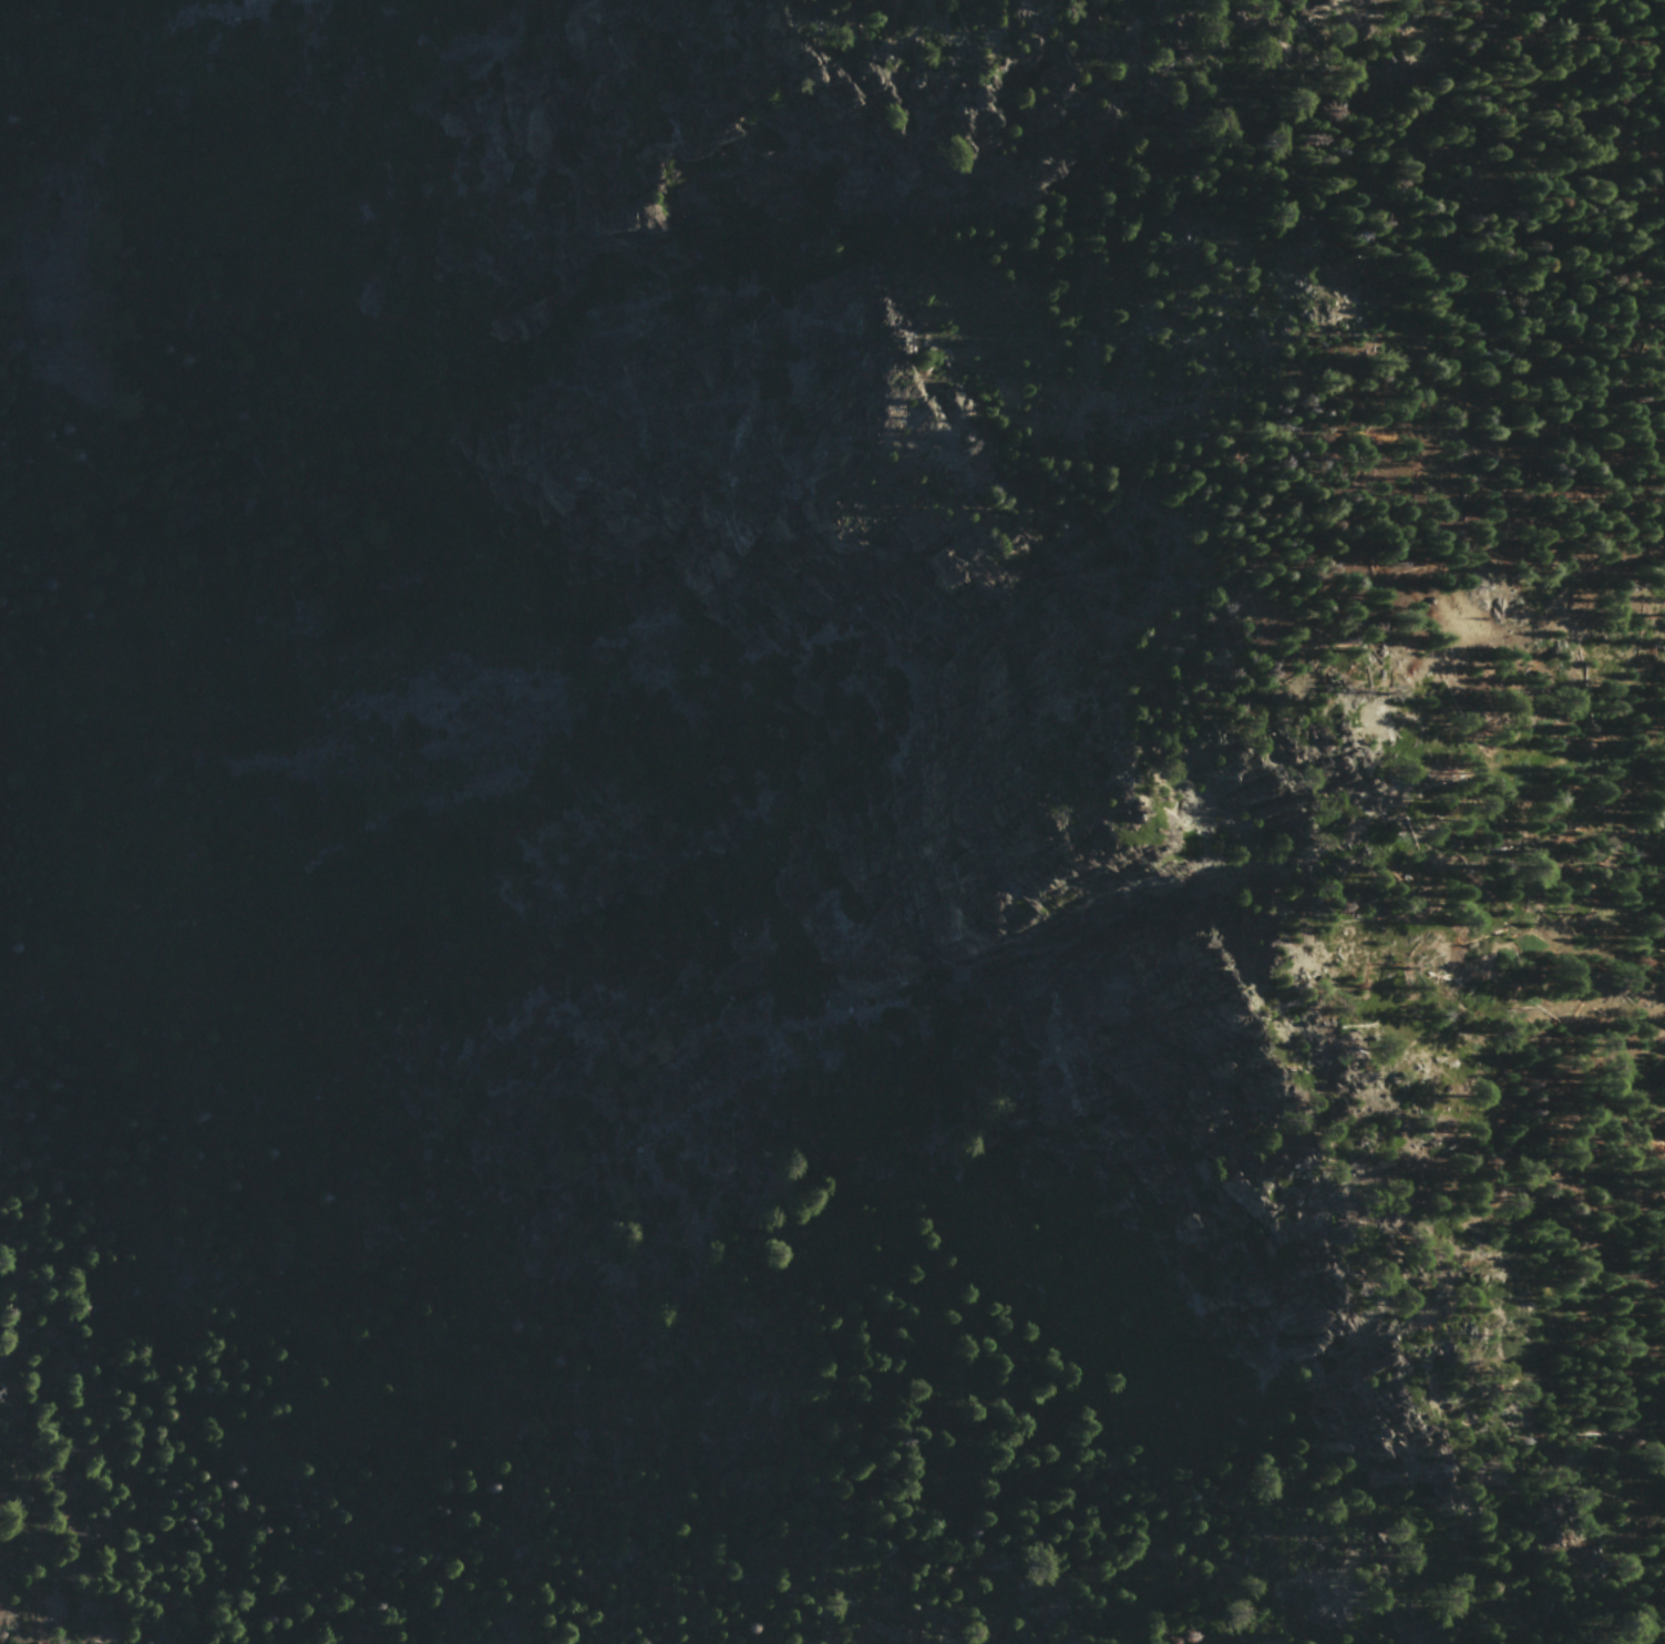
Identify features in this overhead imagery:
road: (1204, 1328)
road: (1289, 1535)

